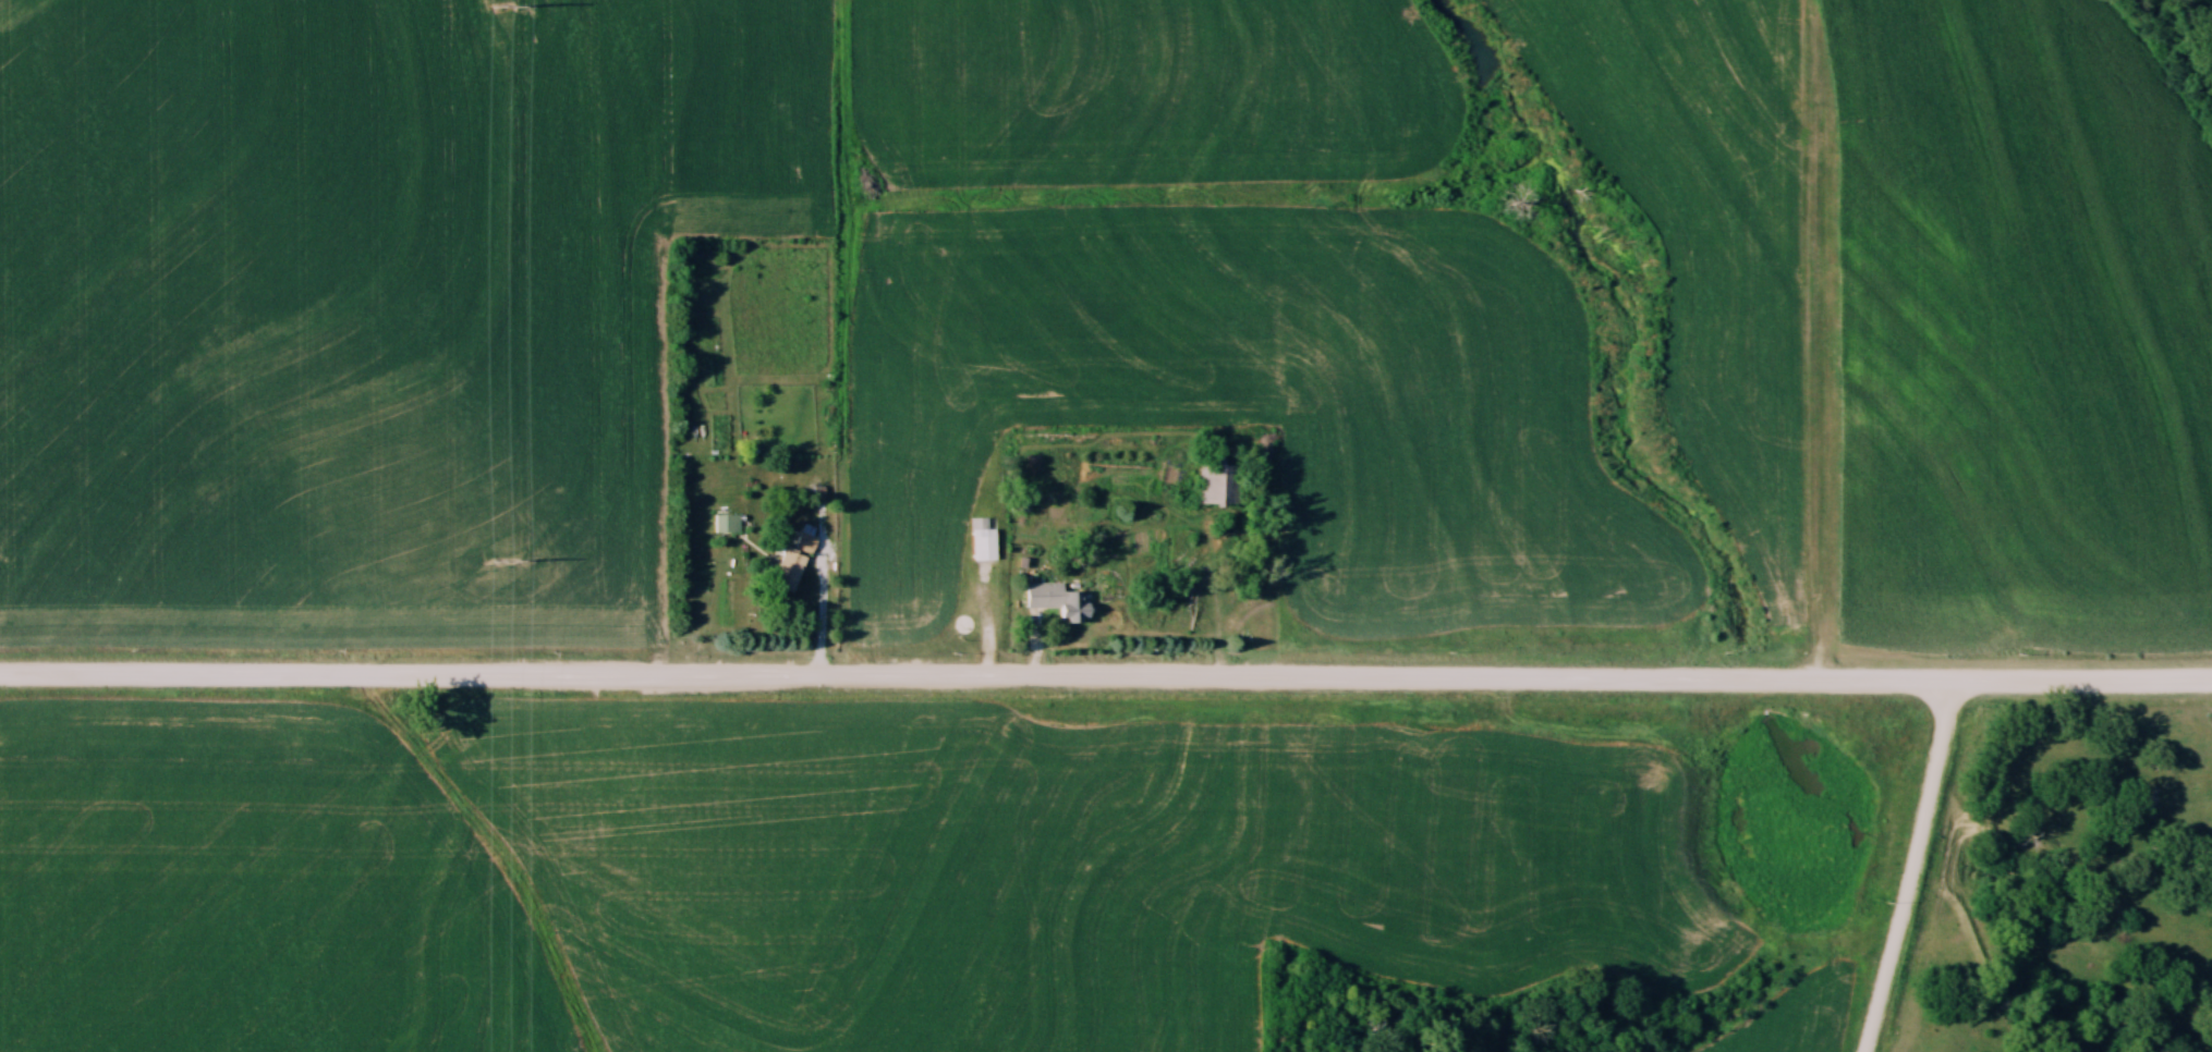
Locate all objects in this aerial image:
power tower: (503, 4)
building: (1220, 485)
building: (726, 523)
building: (982, 540)
building: (806, 541)
power tower: (506, 561)
building: (789, 570)
road: (1214, 594)
building: (1058, 601)
road: (1106, 673)
road: (1908, 867)

